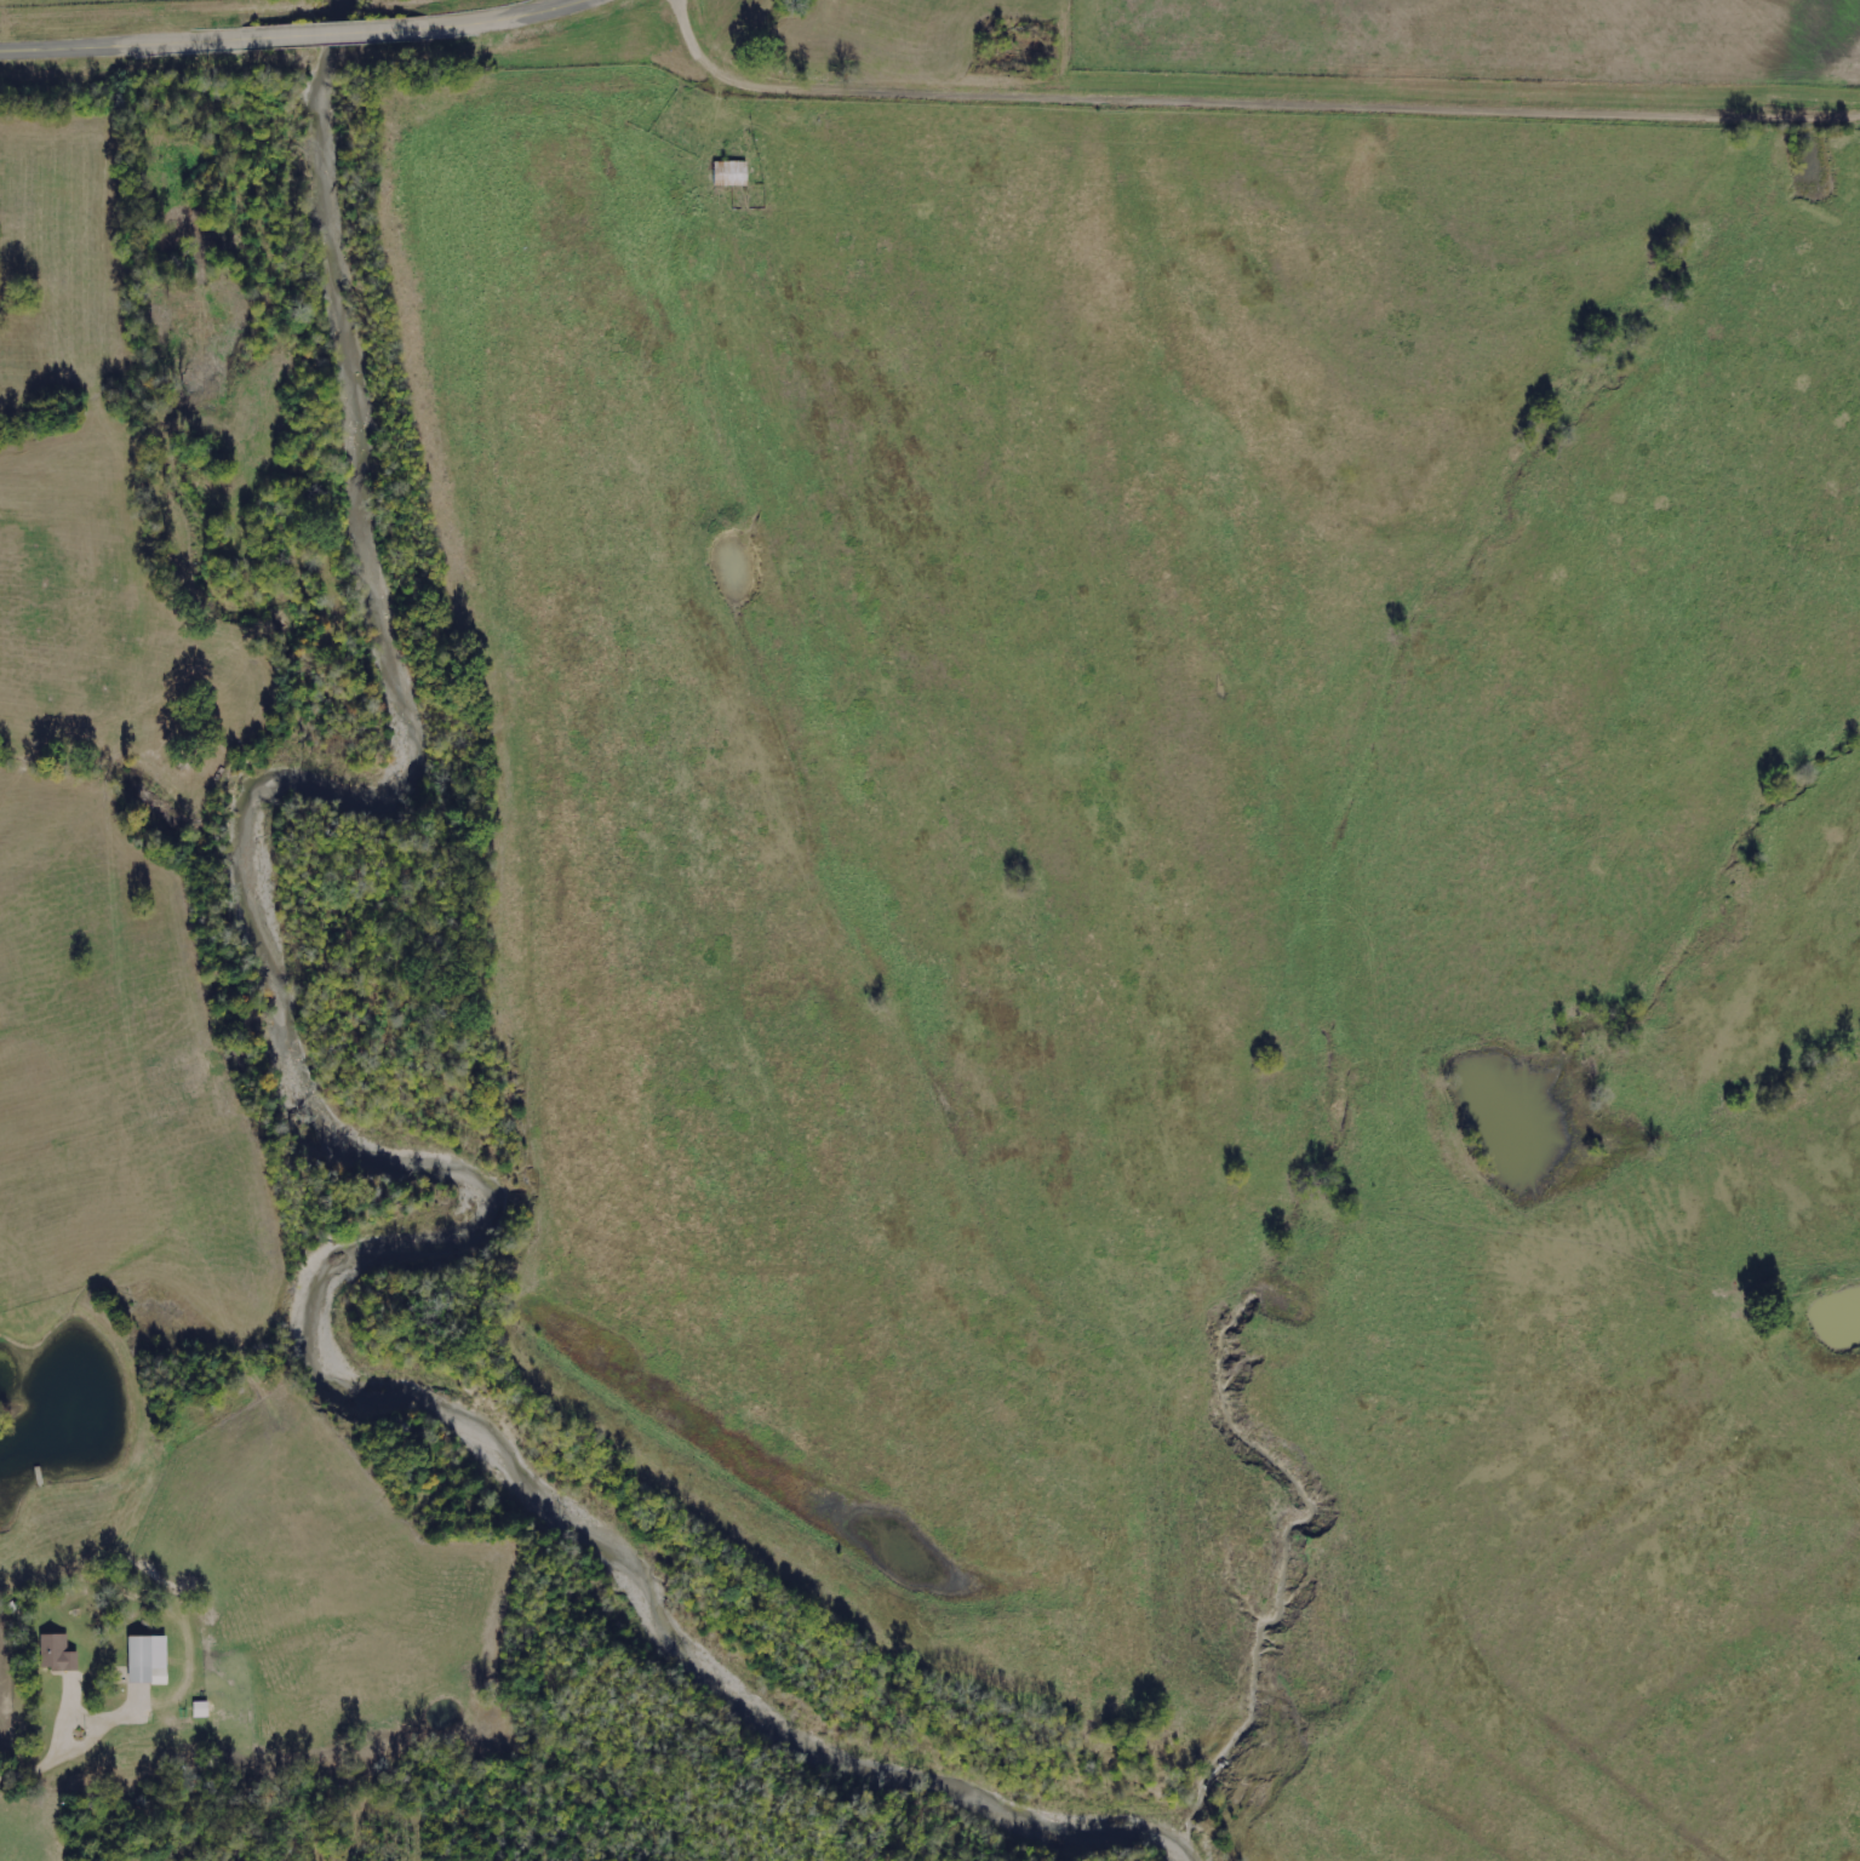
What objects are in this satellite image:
road: (287, 34)
road: (1248, 79)
building: (731, 173)
building: (57, 1651)
building: (147, 1659)
building: (201, 1708)

